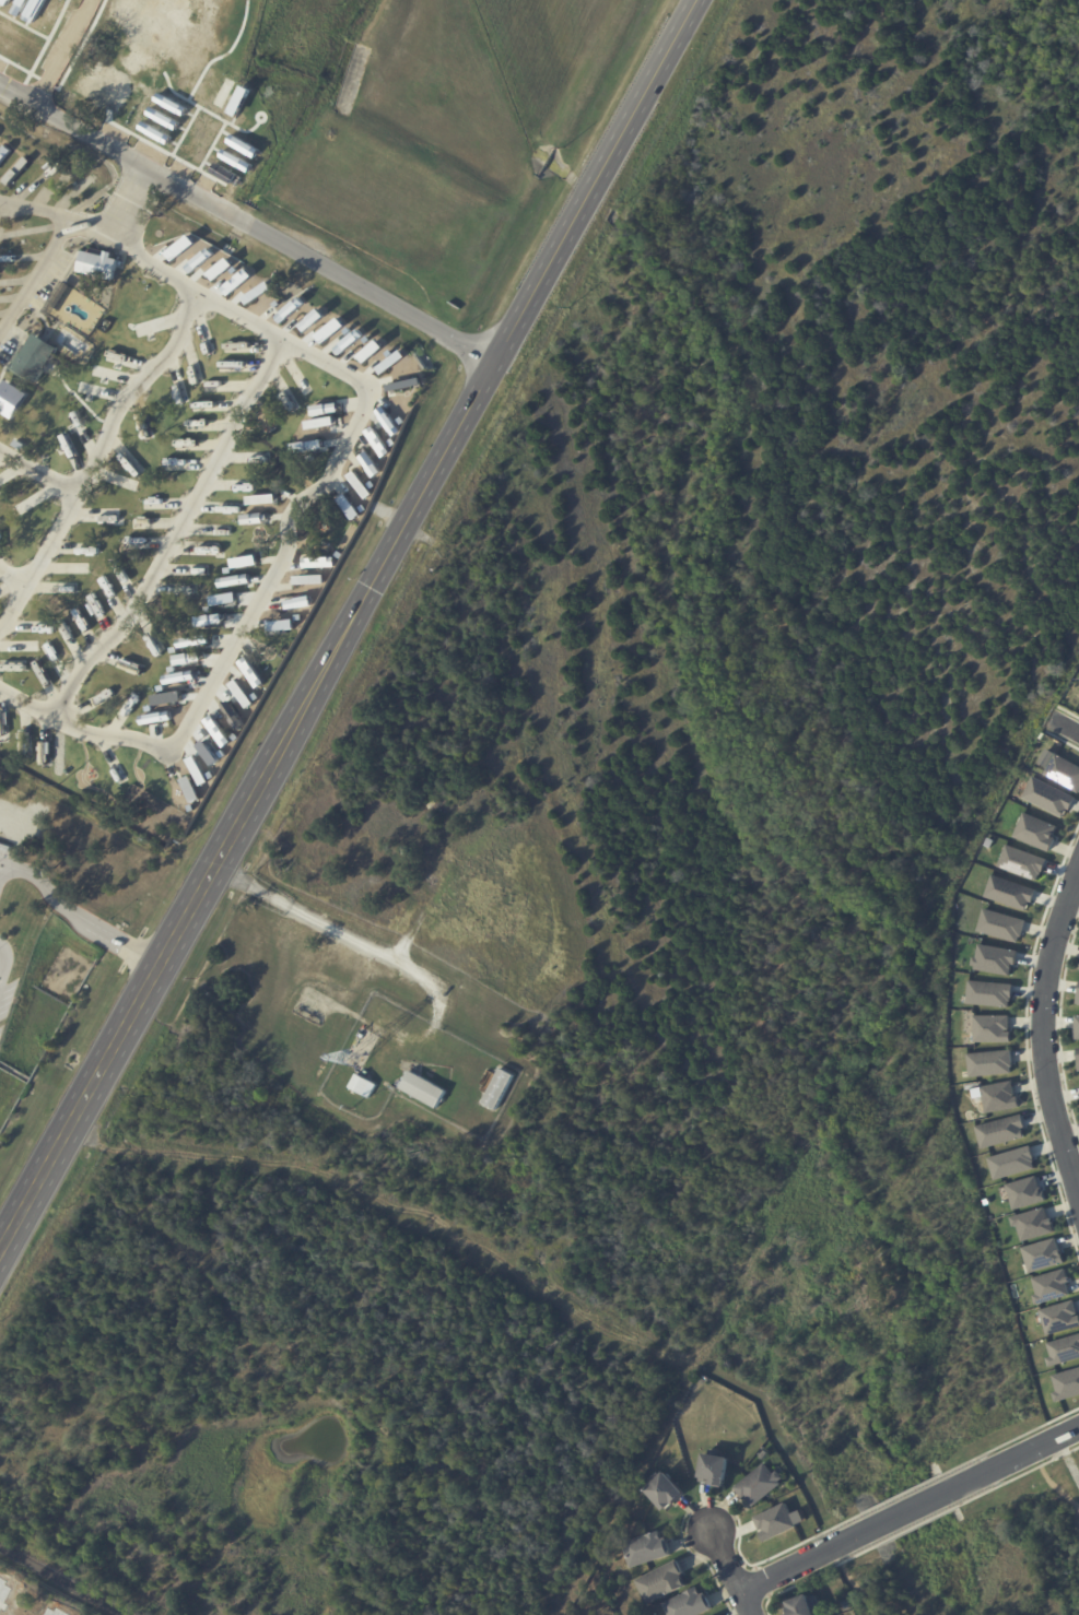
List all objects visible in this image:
road: (59, 52)
building: (3, 152)
road: (125, 199)
road: (34, 210)
road: (7, 213)
road: (247, 224)
building: (98, 264)
road: (35, 276)
road: (216, 302)
building: (33, 357)
building: (3, 380)
building: (11, 399)
road: (96, 458)
road: (38, 471)
building: (349, 506)
road: (176, 533)
building: (316, 562)
road: (274, 566)
road: (12, 574)
building: (305, 579)
building: (94, 606)
road: (349, 625)
road: (1067, 724)
road: (86, 729)
building: (1064, 770)
building: (1048, 797)
building: (1035, 830)
parking lot: (4, 847)
building: (404, 850)
building: (1023, 860)
building: (1010, 891)
road: (78, 916)
building: (1001, 923)
road: (336, 930)
building: (995, 958)
road: (0, 960)
building: (989, 993)
parking lot: (7, 995)
building: (1078, 1001)
building: (1077, 1027)
parking lot: (1, 1028)
building: (990, 1028)
road: (1043, 1033)
building: (1078, 1057)
building: (989, 1062)
building: (361, 1083)
building: (423, 1088)
building: (499, 1088)
building: (998, 1096)
building: (999, 1129)
building: (1010, 1160)
building: (1024, 1192)
building: (1032, 1224)
building: (1042, 1253)
building: (1051, 1285)
building: (1059, 1317)
building: (1063, 1348)
building: (1066, 1383)
building: (764, 1454)
road: (1020, 1457)
building: (714, 1469)
building: (759, 1485)
building: (665, 1492)
road: (908, 1510)
building: (776, 1520)
building: (646, 1549)
road: (796, 1565)
road: (727, 1570)
road: (61, 1581)
building: (661, 1582)
building: (688, 1603)
building: (845, 1604)
building: (800, 1605)

